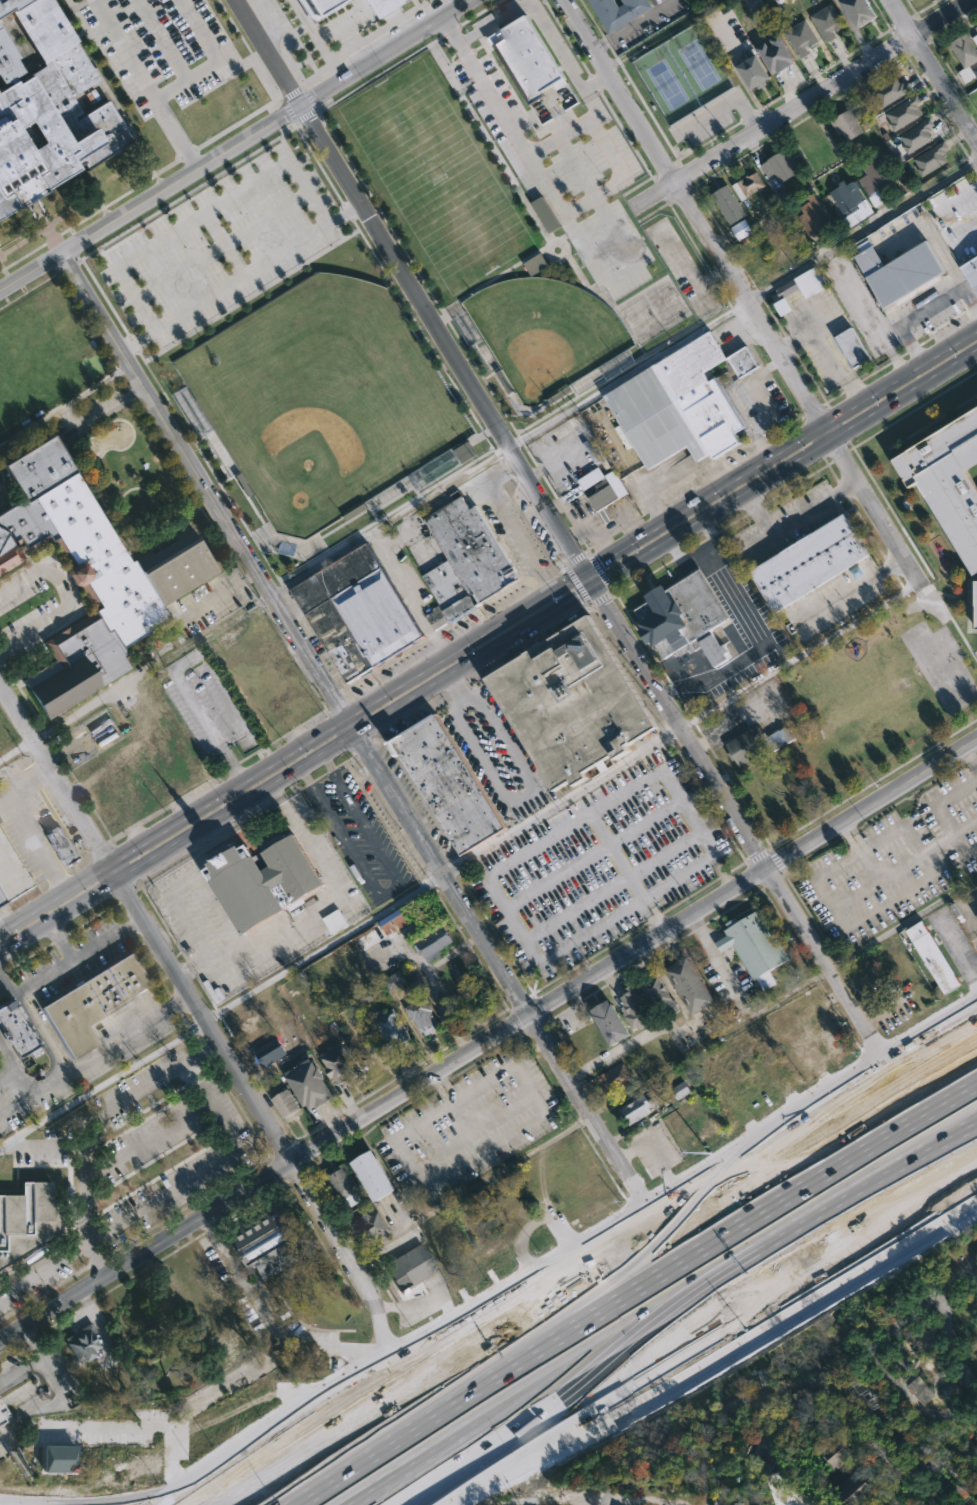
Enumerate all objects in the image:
building: (373, 4)
building: (316, 7)
building: (854, 10)
building: (614, 12)
road: (898, 18)
building: (825, 20)
road: (272, 25)
road: (542, 26)
building: (975, 27)
building: (800, 36)
building: (975, 39)
parking lot: (159, 48)
building: (963, 49)
road: (266, 52)
road: (383, 52)
building: (772, 52)
building: (520, 57)
building: (749, 70)
park: (681, 73)
road: (145, 85)
road: (943, 87)
road: (619, 89)
building: (889, 90)
road: (799, 103)
building: (50, 107)
road: (721, 108)
building: (902, 112)
building: (847, 122)
road: (508, 129)
building: (917, 135)
building: (931, 157)
building: (777, 164)
park: (435, 177)
road: (182, 178)
building: (874, 180)
building: (749, 183)
building: (849, 200)
building: (728, 204)
road: (360, 207)
road: (202, 213)
building: (545, 214)
building: (811, 216)
building: (741, 229)
road: (863, 229)
parking lot: (217, 248)
building: (535, 264)
road: (33, 272)
building: (969, 272)
building: (897, 273)
road: (241, 277)
building: (801, 283)
road: (923, 312)
road: (866, 313)
park: (544, 331)
building: (849, 347)
road: (126, 353)
road: (825, 355)
road: (628, 372)
road: (799, 380)
park: (322, 398)
building: (681, 404)
road: (504, 440)
road: (781, 451)
building: (464, 452)
road: (551, 461)
road: (786, 470)
building: (946, 481)
building: (605, 495)
road: (798, 518)
road: (511, 524)
road: (702, 553)
building: (468, 561)
building: (809, 561)
traffic signals: (586, 571)
building: (88, 577)
road: (591, 580)
road: (568, 582)
traffic signals: (596, 589)
road: (852, 589)
road: (65, 599)
building: (974, 605)
building: (359, 614)
building: (436, 618)
building: (682, 618)
road: (523, 634)
road: (761, 646)
road: (152, 666)
road: (456, 690)
building: (571, 703)
road: (209, 729)
building: (754, 744)
road: (16, 750)
road: (971, 757)
road: (277, 764)
building: (445, 783)
road: (522, 796)
road: (942, 799)
road: (225, 817)
road: (738, 821)
road: (24, 823)
road: (965, 826)
road: (415, 828)
road: (860, 841)
building: (62, 845)
road: (852, 846)
parking lot: (899, 861)
road: (910, 861)
road: (514, 862)
road: (462, 863)
parking lot: (604, 864)
building: (11, 872)
road: (721, 874)
building: (264, 878)
road: (390, 891)
road: (643, 902)
building: (975, 915)
building: (335, 920)
road: (312, 921)
building: (390, 938)
road: (60, 941)
road: (976, 942)
building: (437, 943)
building: (754, 947)
road: (78, 954)
building: (931, 956)
road: (714, 958)
road: (957, 966)
road: (3, 975)
building: (394, 981)
road: (3, 983)
building: (692, 985)
building: (660, 994)
building: (95, 1001)
building: (636, 1008)
building: (422, 1013)
road: (204, 1017)
building: (609, 1022)
road: (36, 1026)
building: (392, 1027)
building: (19, 1029)
road: (639, 1037)
road: (488, 1040)
road: (201, 1050)
building: (270, 1051)
road: (88, 1058)
building: (341, 1064)
building: (614, 1077)
building: (314, 1083)
road: (865, 1084)
road: (440, 1087)
building: (680, 1090)
building: (289, 1103)
building: (637, 1109)
road: (822, 1133)
road: (651, 1147)
road: (485, 1148)
building: (378, 1175)
building: (343, 1184)
road: (468, 1190)
road: (901, 1198)
building: (27, 1220)
building: (370, 1224)
building: (269, 1243)
road: (565, 1251)
road: (963, 1265)
building: (410, 1267)
road: (648, 1271)
road: (416, 1306)
road: (94, 1318)
road: (270, 1320)
road: (946, 1339)
building: (84, 1343)
road: (32, 1345)
road: (715, 1351)
road: (449, 1361)
road: (602, 1372)
building: (764, 1376)
road: (53, 1390)
building: (916, 1390)
road: (764, 1399)
building: (804, 1403)
building: (2, 1415)
road: (294, 1434)
road: (870, 1442)
building: (59, 1458)
road: (704, 1459)
building: (848, 1473)
building: (785, 1491)
road: (586, 1502)
road: (586, 1504)

